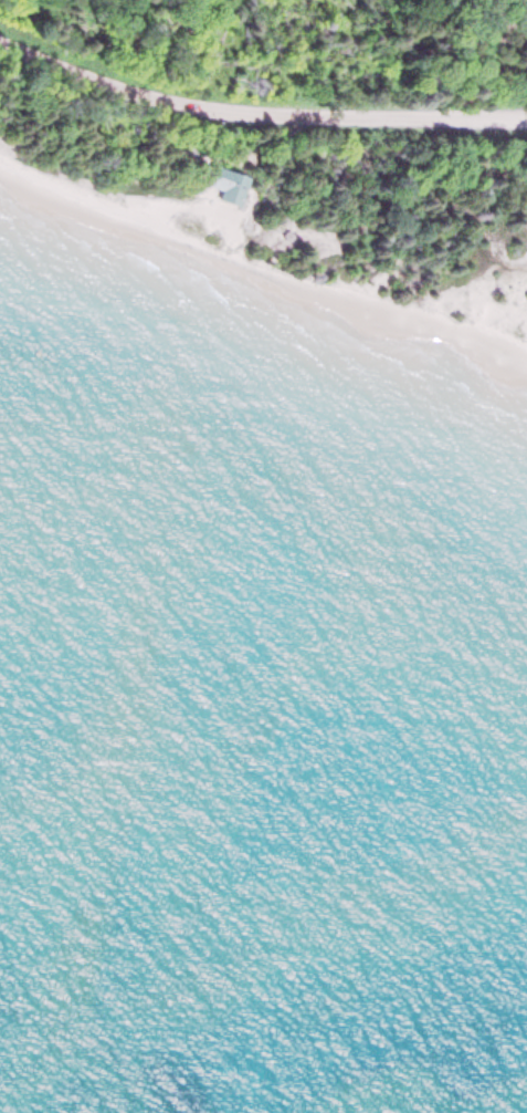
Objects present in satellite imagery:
road: (257, 118)
building: (220, 186)

